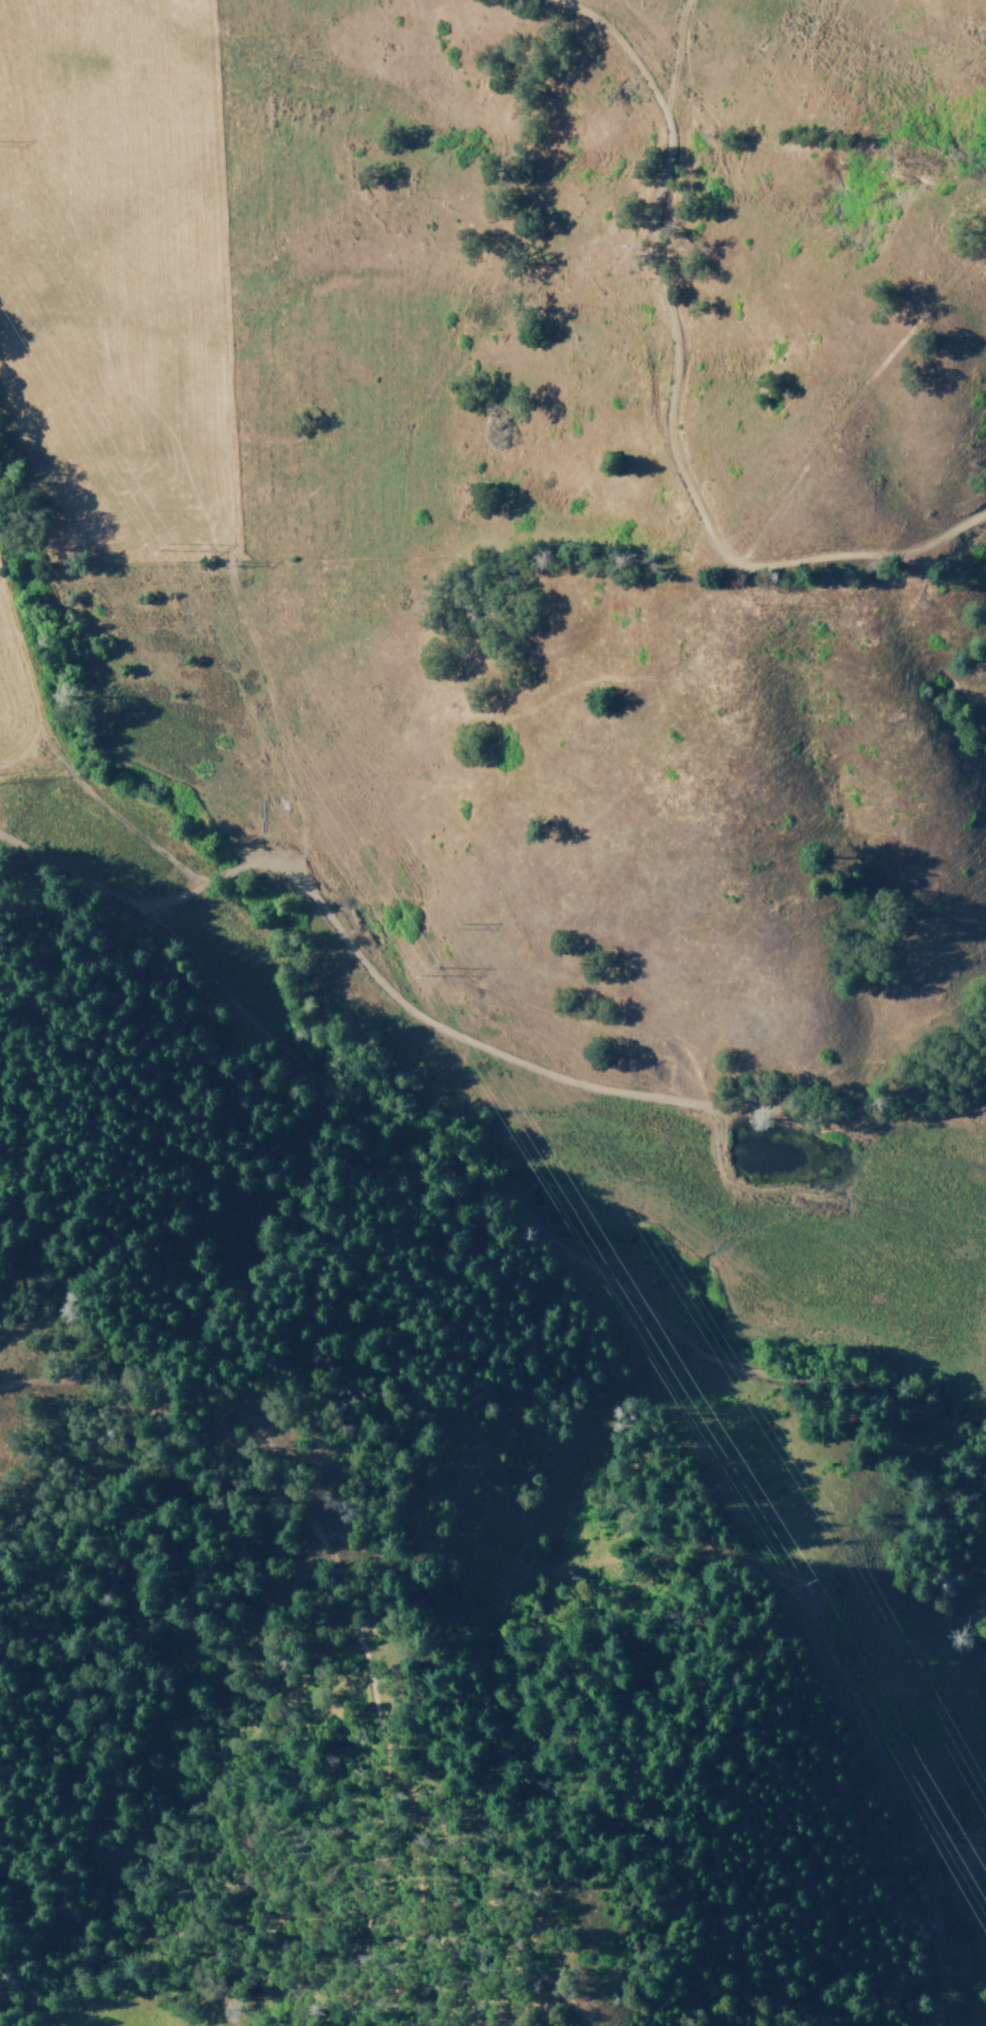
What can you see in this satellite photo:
power tower: (161, 547)
power tower: (422, 973)
power tower: (809, 1585)

